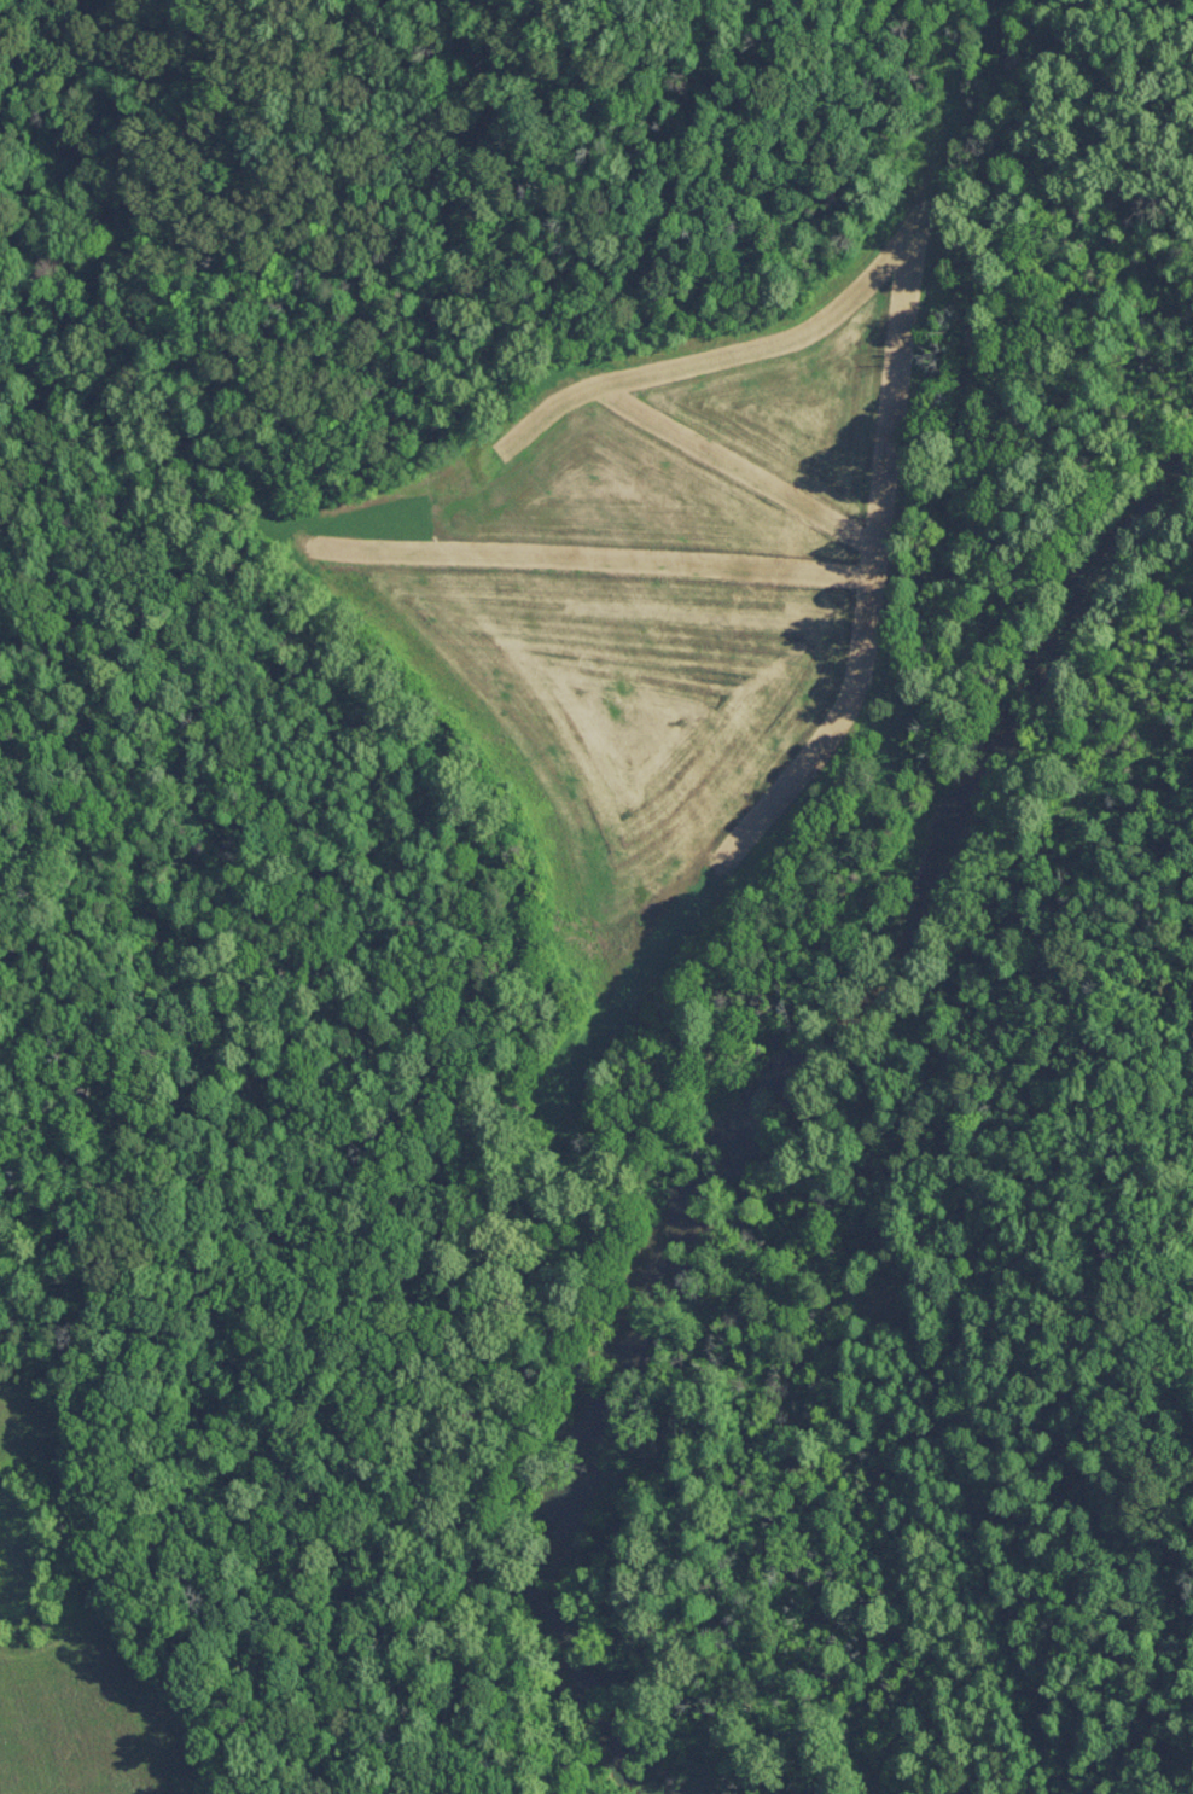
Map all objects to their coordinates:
river: (775, 1114)

